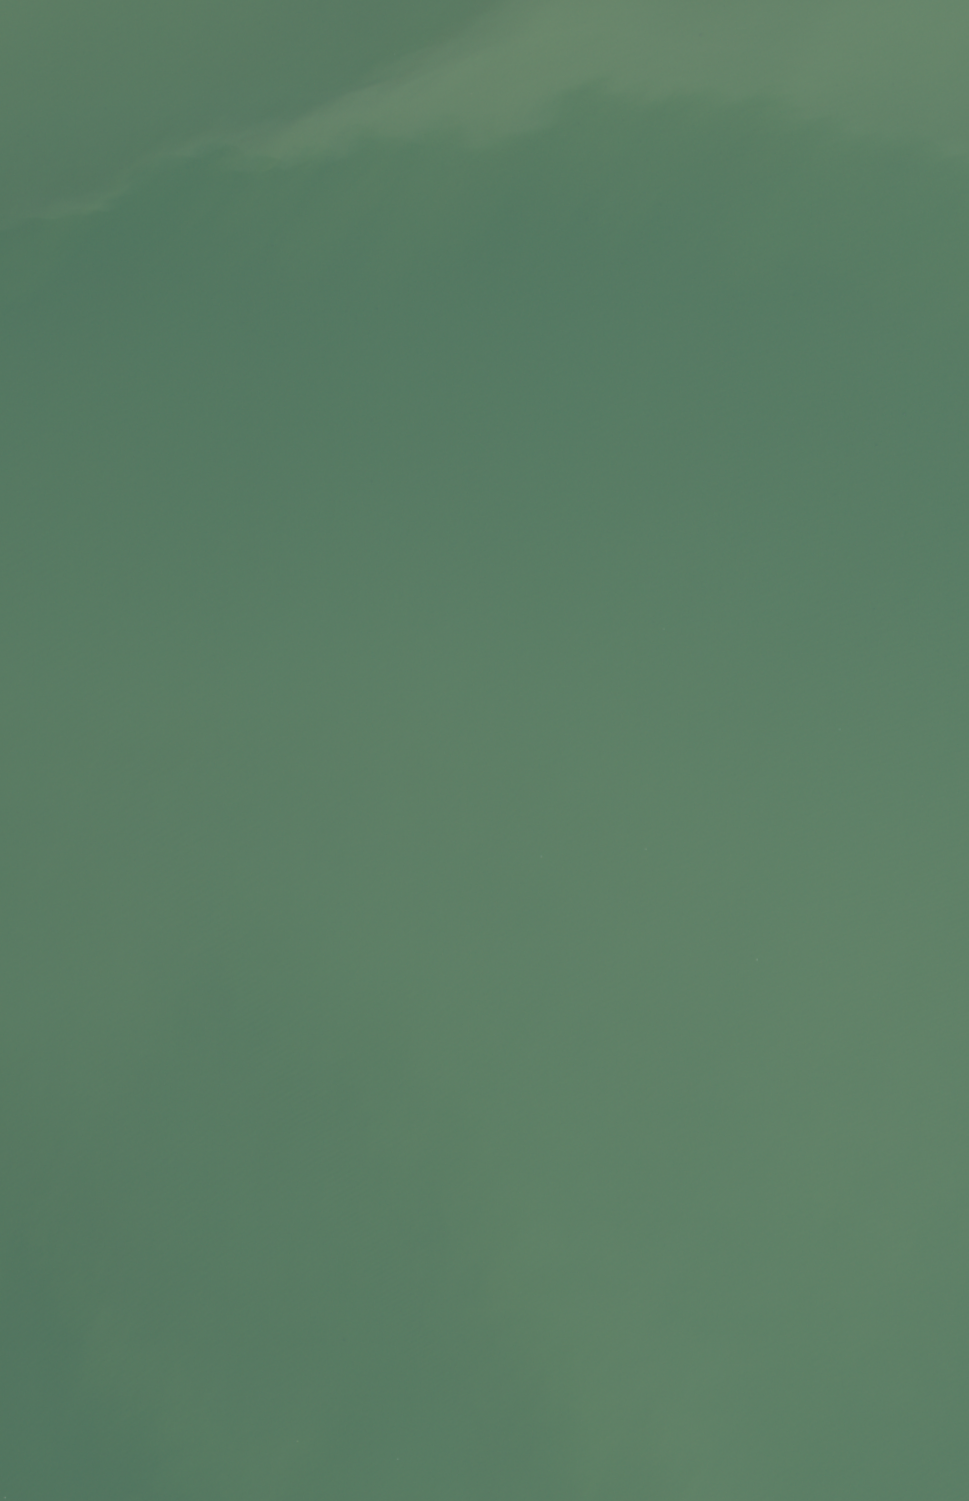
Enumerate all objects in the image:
river: (484, 345)

